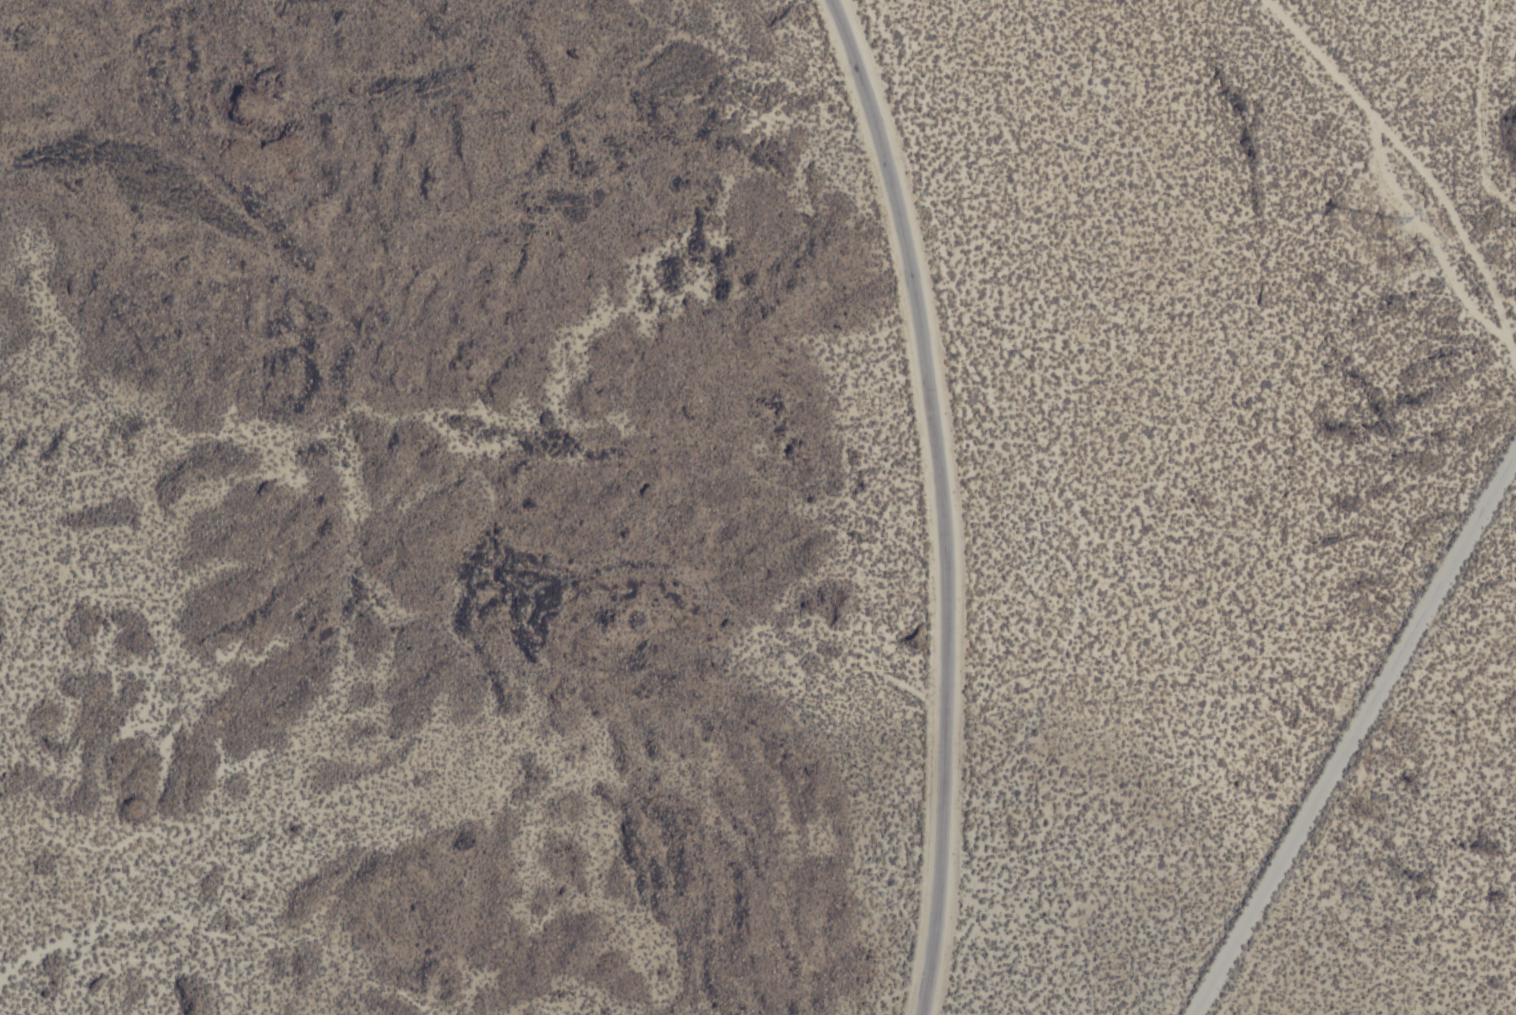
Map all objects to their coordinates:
power tower: (1351, 154)
road: (1388, 175)
road: (1458, 224)
road: (948, 500)
road: (1357, 733)

